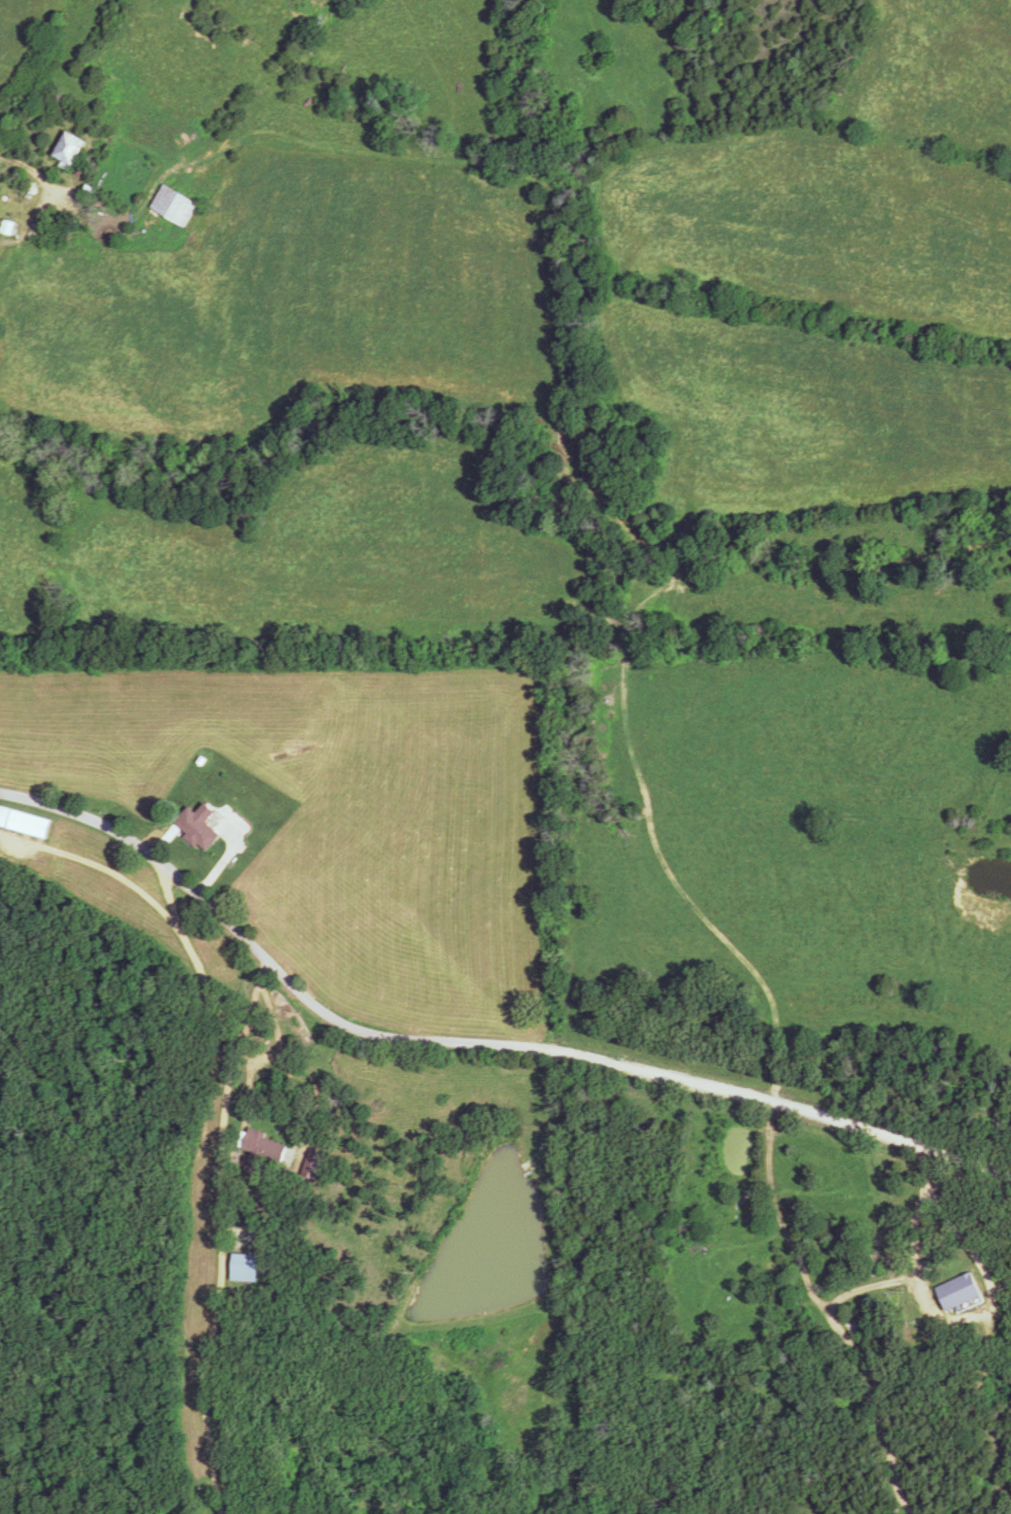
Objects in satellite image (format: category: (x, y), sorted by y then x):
building: (71, 151)
building: (174, 205)
building: (25, 821)
building: (200, 825)
road: (474, 1047)
building: (259, 1148)
building: (313, 1167)
road: (211, 1177)
building: (244, 1267)

